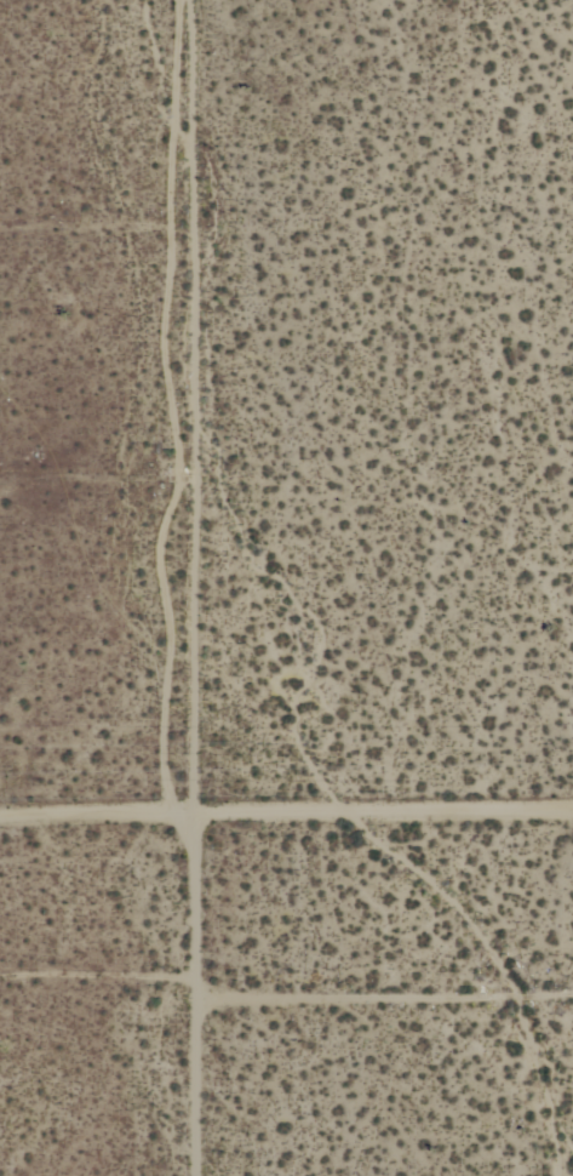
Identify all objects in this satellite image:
road: (187, 588)
road: (286, 823)

